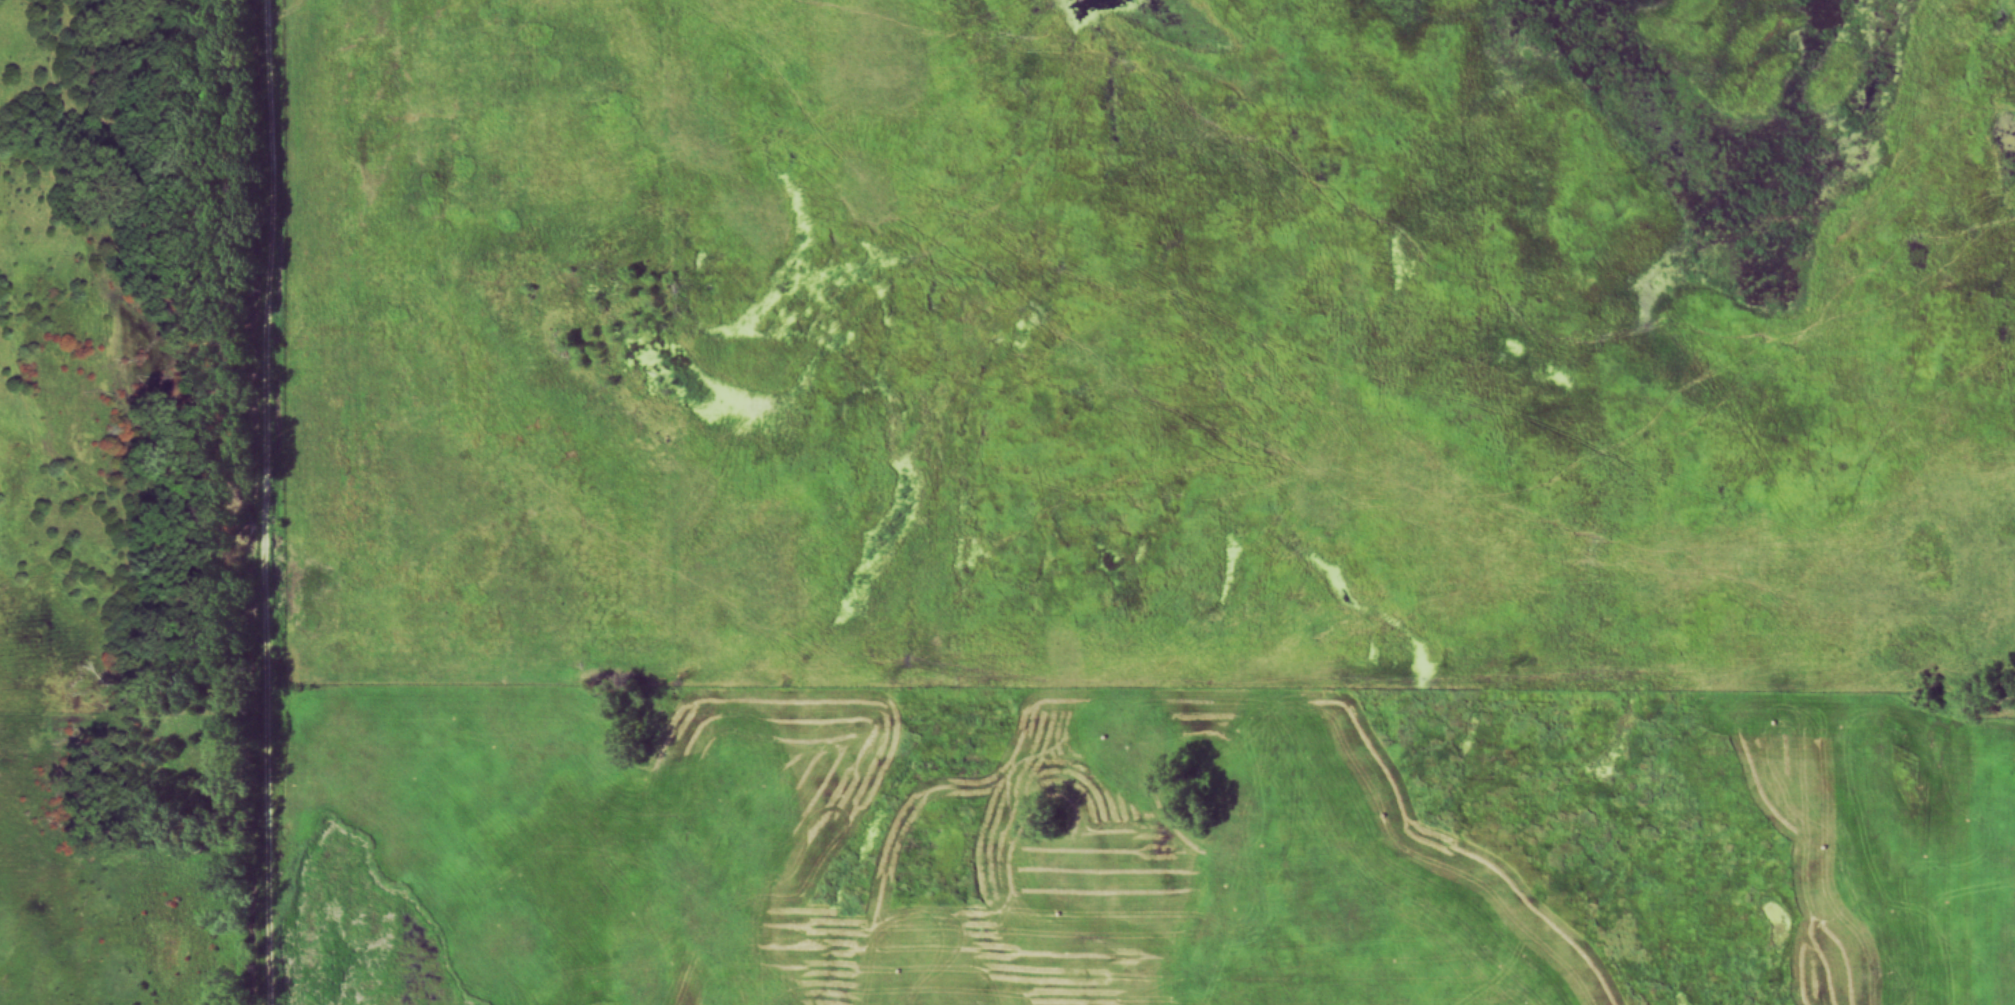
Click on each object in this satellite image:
road: (261, 502)
building: (1521, 812)
building: (1441, 819)
building: (1541, 839)

